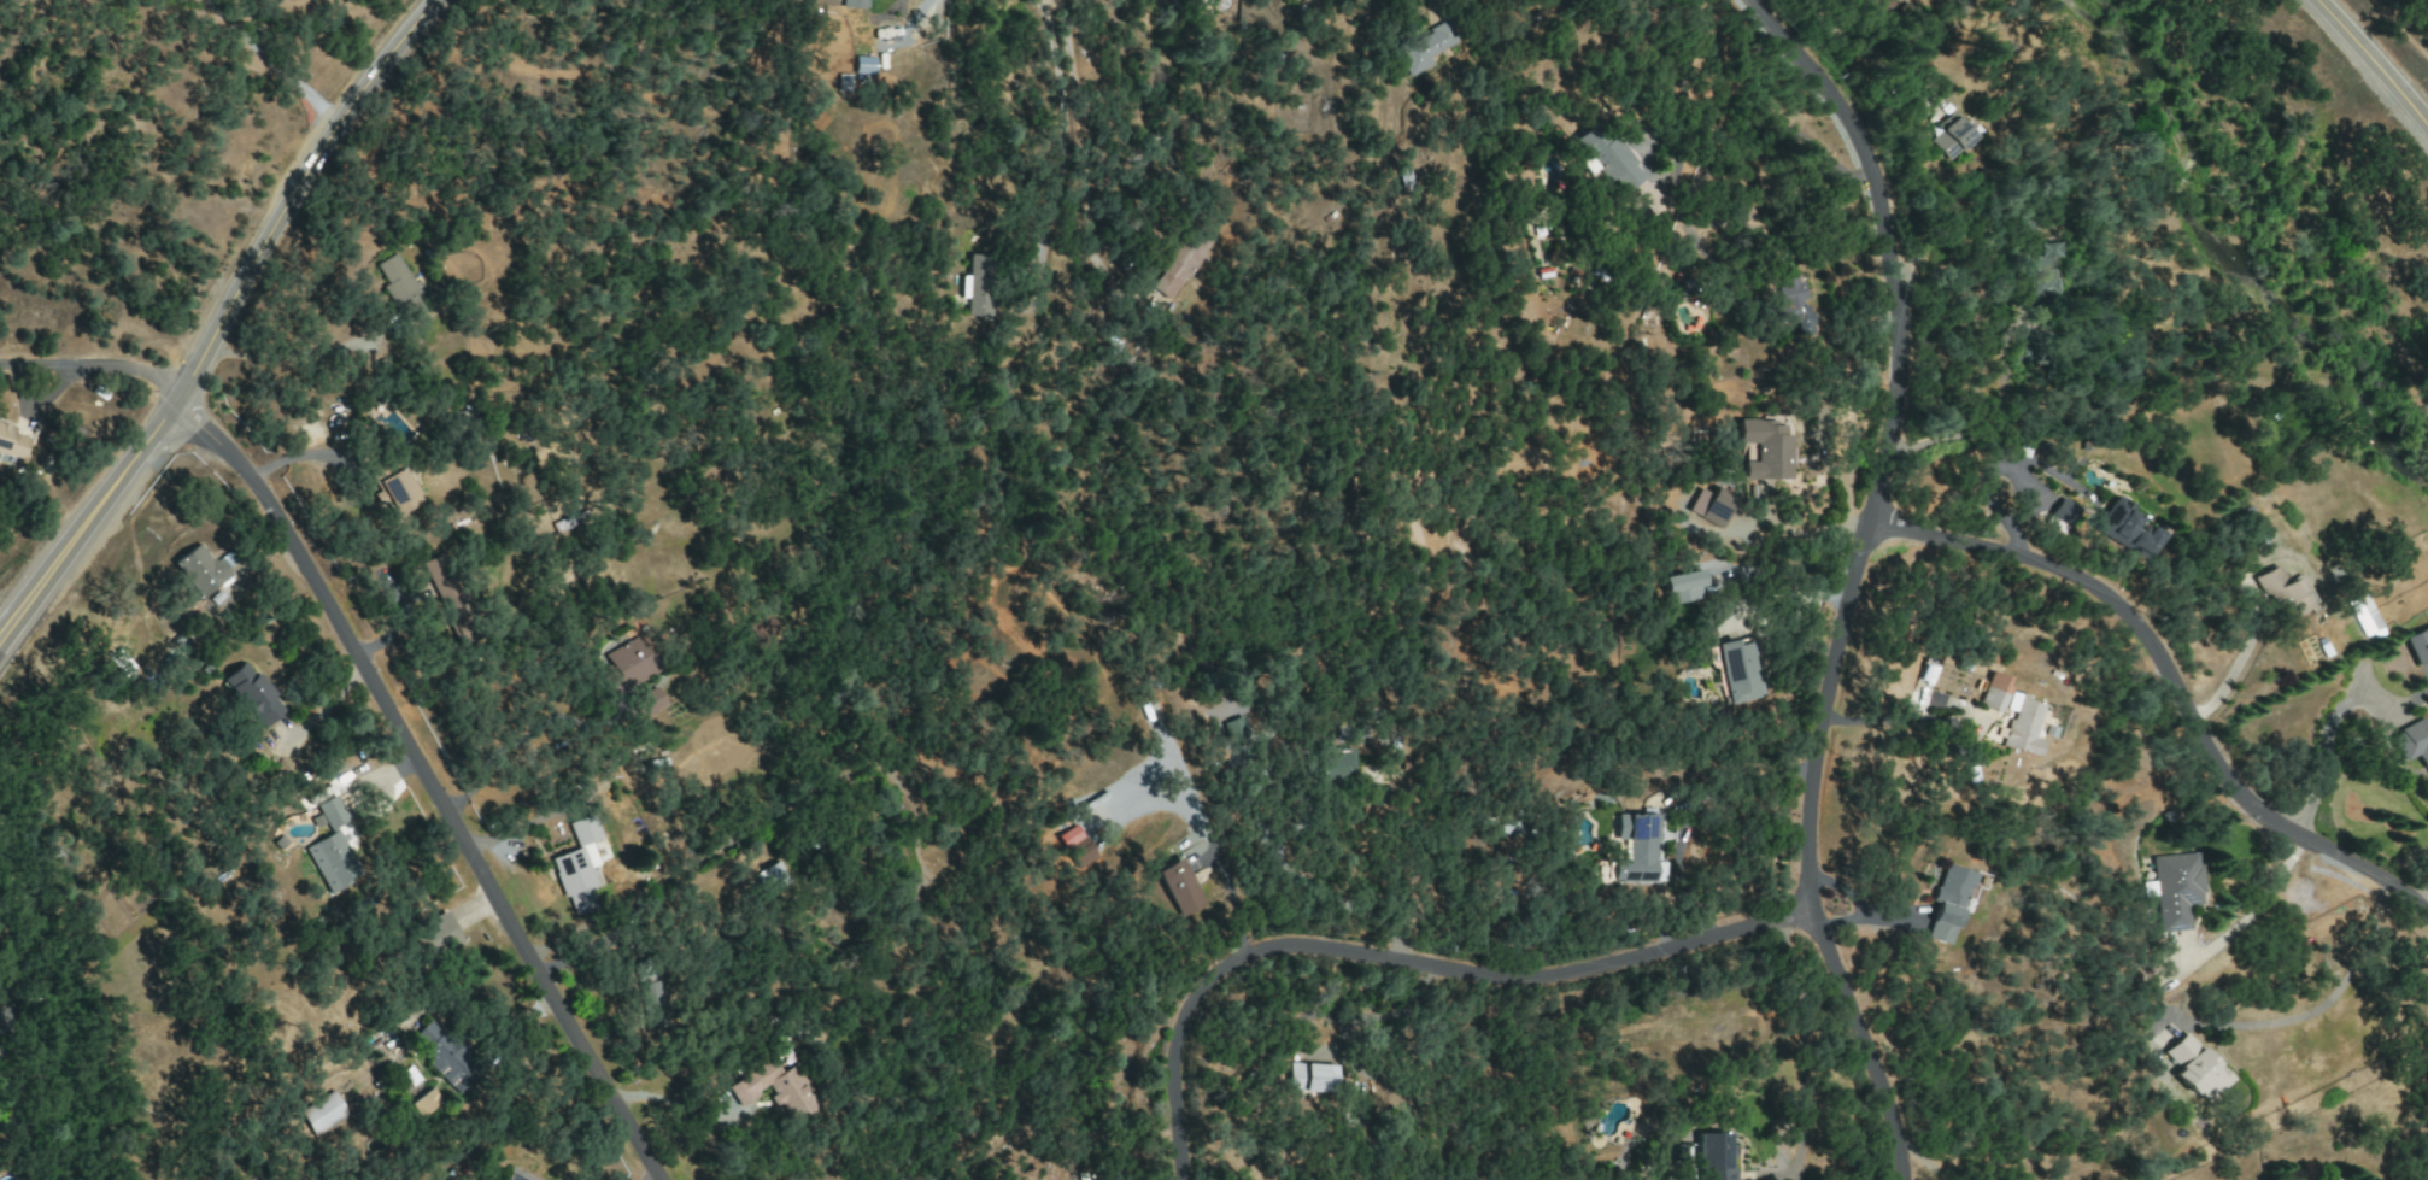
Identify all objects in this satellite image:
building: (852, 4)
road: (1431, 5)
road: (2399, 30)
building: (1425, 48)
road: (1867, 52)
road: (1052, 59)
road: (272, 61)
building: (862, 65)
road: (2370, 67)
building: (1951, 137)
building: (1607, 158)
road: (292, 198)
road: (1045, 227)
building: (1179, 264)
building: (2036, 268)
building: (977, 286)
building: (399, 287)
building: (1783, 301)
road: (299, 358)
road: (90, 368)
building: (12, 441)
building: (1764, 450)
road: (297, 456)
building: (394, 492)
building: (1709, 505)
building: (2062, 515)
road: (87, 519)
building: (2124, 528)
building: (201, 570)
road: (1859, 579)
building: (1683, 586)
building: (445, 591)
building: (2285, 593)
building: (758, 634)
building: (2417, 645)
building: (626, 665)
road: (2236, 665)
building: (1740, 670)
building: (1926, 674)
road: (2172, 687)
building: (1993, 692)
building: (252, 694)
building: (646, 703)
road: (1899, 717)
building: (2019, 724)
building: (1234, 732)
building: (2412, 742)
road: (2323, 762)
building: (1338, 764)
road: (430, 782)
building: (330, 849)
building: (1640, 850)
building: (1081, 851)
building: (577, 868)
building: (779, 874)
road: (1309, 880)
building: (1178, 887)
building: (2174, 888)
road: (2414, 896)
building: (1946, 903)
road: (2248, 910)
building: (432, 935)
road: (1403, 961)
building: (651, 998)
road: (2329, 999)
building: (0, 1026)
road: (1799, 1052)
building: (444, 1058)
building: (2193, 1068)
building: (1309, 1078)
building: (778, 1090)
road: (674, 1100)
building: (426, 1104)
building: (322, 1113)
building: (1712, 1157)
building: (514, 1175)

